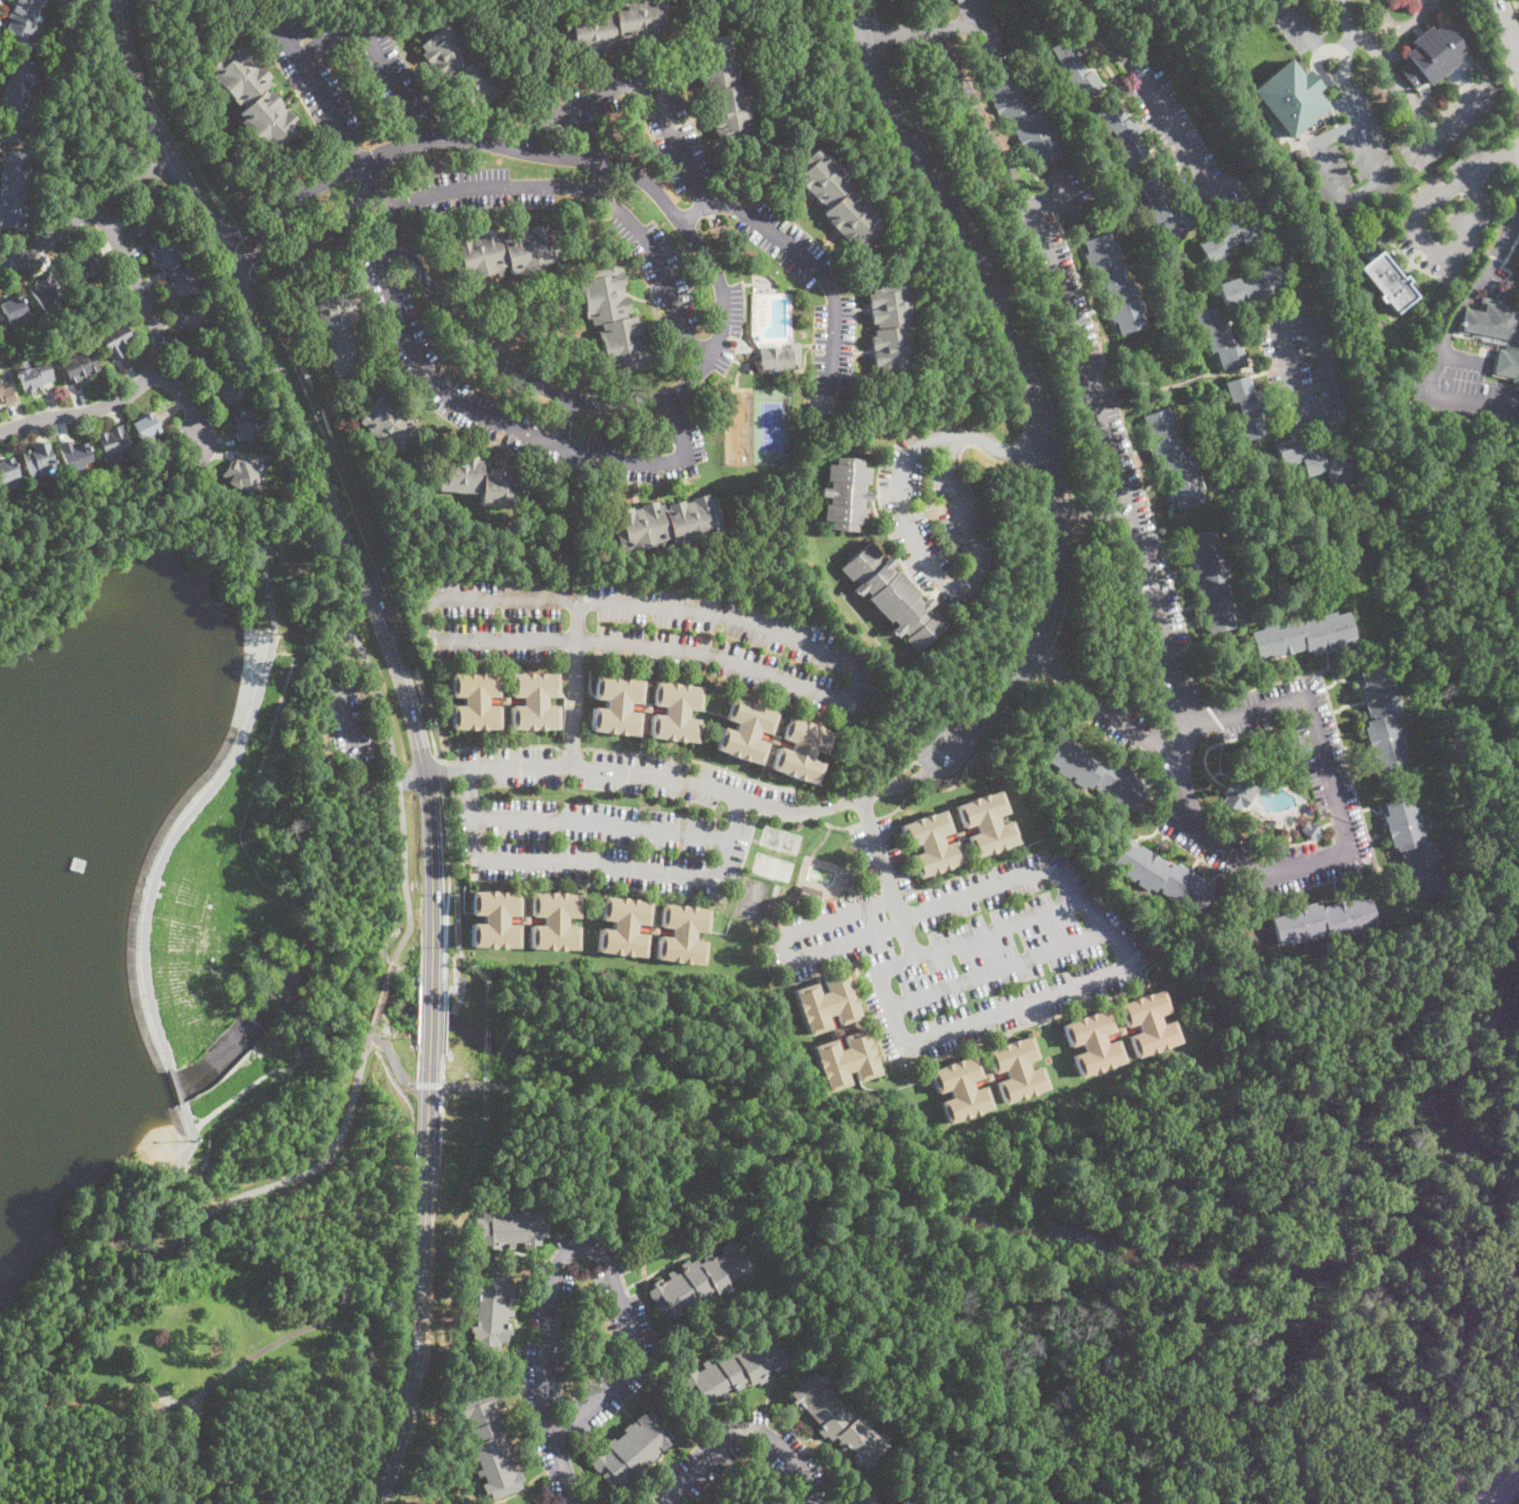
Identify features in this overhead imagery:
building: (959, 1)
road: (1516, 7)
road: (874, 10)
building: (22, 19)
road: (973, 20)
parking lot: (1296, 22)
building: (614, 24)
road: (1300, 25)
road: (1371, 25)
road: (1402, 26)
road: (1508, 28)
parking lot: (979, 31)
road: (877, 33)
road: (1349, 41)
road: (375, 46)
building: (1435, 53)
road: (1518, 56)
road: (1518, 58)
road: (1387, 65)
building: (460, 67)
building: (1074, 68)
parking lot: (382, 69)
road: (1319, 73)
road: (313, 76)
parking lot: (309, 77)
building: (722, 87)
road: (641, 89)
building: (253, 97)
building: (1287, 98)
building: (18, 101)
parking lot: (1471, 105)
road: (171, 114)
building: (1022, 117)
road: (1450, 120)
parking lot: (672, 129)
road: (422, 130)
building: (1122, 132)
parking lot: (1181, 142)
road: (353, 149)
road: (1494, 154)
parking lot: (1350, 156)
road: (601, 177)
road: (1228, 186)
building: (13, 189)
parking lot: (495, 190)
road: (1362, 190)
road: (594, 191)
parking lot: (1066, 191)
building: (837, 198)
road: (288, 202)
road: (402, 203)
building: (1162, 206)
road: (87, 208)
parking lot: (1450, 212)
building: (149, 214)
road: (692, 215)
building: (1228, 236)
road: (312, 240)
road: (239, 248)
road: (1429, 249)
building: (165, 252)
building: (504, 252)
road: (394, 255)
road: (997, 265)
building: (82, 266)
road: (820, 272)
parking lot: (660, 275)
building: (1388, 282)
building: (1114, 283)
building: (182, 284)
building: (1251, 287)
building: (45, 293)
road: (1466, 298)
parking lot: (839, 303)
building: (15, 311)
building: (195, 315)
building: (613, 320)
parking lot: (722, 327)
building: (889, 327)
road: (741, 329)
building: (340, 331)
road: (1074, 331)
building: (1497, 331)
road: (733, 336)
road: (723, 337)
building: (1217, 338)
building: (115, 340)
parking lot: (1077, 345)
road: (748, 346)
road: (700, 348)
road: (743, 348)
parking lot: (413, 349)
building: (203, 354)
road: (1262, 355)
building: (781, 357)
road: (1276, 357)
road: (1462, 357)
road: (156, 363)
road: (746, 363)
road: (1291, 365)
building: (78, 366)
road: (703, 366)
parking lot: (1303, 368)
road: (738, 372)
road: (1257, 373)
building: (221, 374)
building: (34, 377)
road: (1189, 379)
parking lot: (1461, 387)
building: (228, 389)
road: (1103, 390)
building: (6, 394)
road: (1474, 398)
road: (188, 400)
road: (674, 405)
building: (1247, 407)
road: (563, 421)
building: (389, 423)
building: (245, 425)
park: (770, 425)
building: (814, 425)
building: (145, 426)
road: (513, 428)
building: (113, 442)
building: (75, 453)
parking lot: (643, 453)
road: (908, 455)
building: (1172, 458)
building: (38, 459)
building: (1311, 461)
building: (7, 470)
road: (319, 470)
building: (240, 475)
building: (480, 480)
road: (174, 487)
building: (846, 494)
parking lot: (933, 512)
road: (350, 513)
road: (355, 513)
road: (1093, 513)
road: (1075, 514)
road: (337, 518)
road: (965, 522)
building: (667, 523)
road: (298, 533)
building: (1210, 581)
road: (1068, 588)
building: (893, 595)
road: (583, 600)
road: (578, 620)
parking lot: (645, 634)
building: (1302, 635)
road: (1035, 639)
road: (356, 644)
road: (648, 648)
parking lot: (1155, 649)
road: (650, 656)
road: (336, 657)
road: (1327, 661)
road: (1046, 662)
road: (1290, 665)
road: (1198, 667)
road: (262, 674)
road: (1340, 677)
road: (789, 693)
building: (474, 700)
building: (504, 700)
building: (534, 701)
road: (1348, 704)
building: (616, 705)
road: (640, 706)
building: (646, 707)
road: (650, 707)
building: (675, 711)
building: (1382, 717)
parking lot: (350, 725)
road: (1312, 727)
building: (746, 730)
road: (768, 739)
building: (774, 739)
road: (779, 741)
road: (1355, 742)
road: (494, 745)
road: (569, 749)
building: (801, 750)
road: (694, 758)
road: (355, 761)
road: (970, 762)
parking lot: (1326, 770)
road: (439, 771)
building: (1099, 774)
road: (399, 782)
building: (1236, 795)
road: (1372, 807)
road: (795, 808)
park: (346, 813)
road: (774, 816)
road: (1346, 817)
road: (869, 818)
road: (602, 820)
parking lot: (601, 821)
road: (1325, 823)
building: (987, 824)
building: (1312, 831)
road: (1378, 834)
building: (959, 835)
road: (755, 839)
park: (780, 839)
road: (822, 840)
building: (931, 843)
building: (1413, 846)
road: (893, 856)
road: (593, 862)
park: (772, 865)
road: (449, 870)
building: (1162, 875)
road: (890, 876)
road: (405, 879)
road: (972, 883)
road: (919, 890)
road: (1336, 891)
building: (809, 894)
park: (752, 898)
road: (1093, 914)
building: (495, 919)
building: (523, 919)
road: (827, 920)
building: (1323, 920)
building: (554, 921)
dam: (208, 925)
building: (623, 926)
building: (652, 929)
building: (682, 934)
parking lot: (964, 946)
park: (173, 947)
road: (382, 992)
road: (885, 1001)
road: (445, 1003)
building: (827, 1003)
road: (431, 1005)
building: (1149, 1023)
road: (371, 1028)
building: (1120, 1032)
building: (837, 1033)
building: (240, 1035)
building: (1093, 1043)
road: (392, 1058)
building: (845, 1059)
road: (442, 1066)
building: (1016, 1069)
building: (988, 1078)
road: (428, 1084)
road: (176, 1086)
building: (960, 1089)
road: (1488, 1174)
road: (207, 1177)
road: (274, 1183)
road: (802, 1196)
building: (510, 1227)
road: (100, 1238)
road: (600, 1252)
road: (422, 1276)
building: (700, 1279)
building: (491, 1311)
road: (1416, 1311)
road: (1289, 1318)
road: (1158, 1319)
building: (106, 1367)
building: (734, 1369)
building: (839, 1419)
road: (747, 1429)
building: (490, 1444)
building: (630, 1448)
road: (563, 1467)
road: (1501, 1483)
building: (862, 1499)

